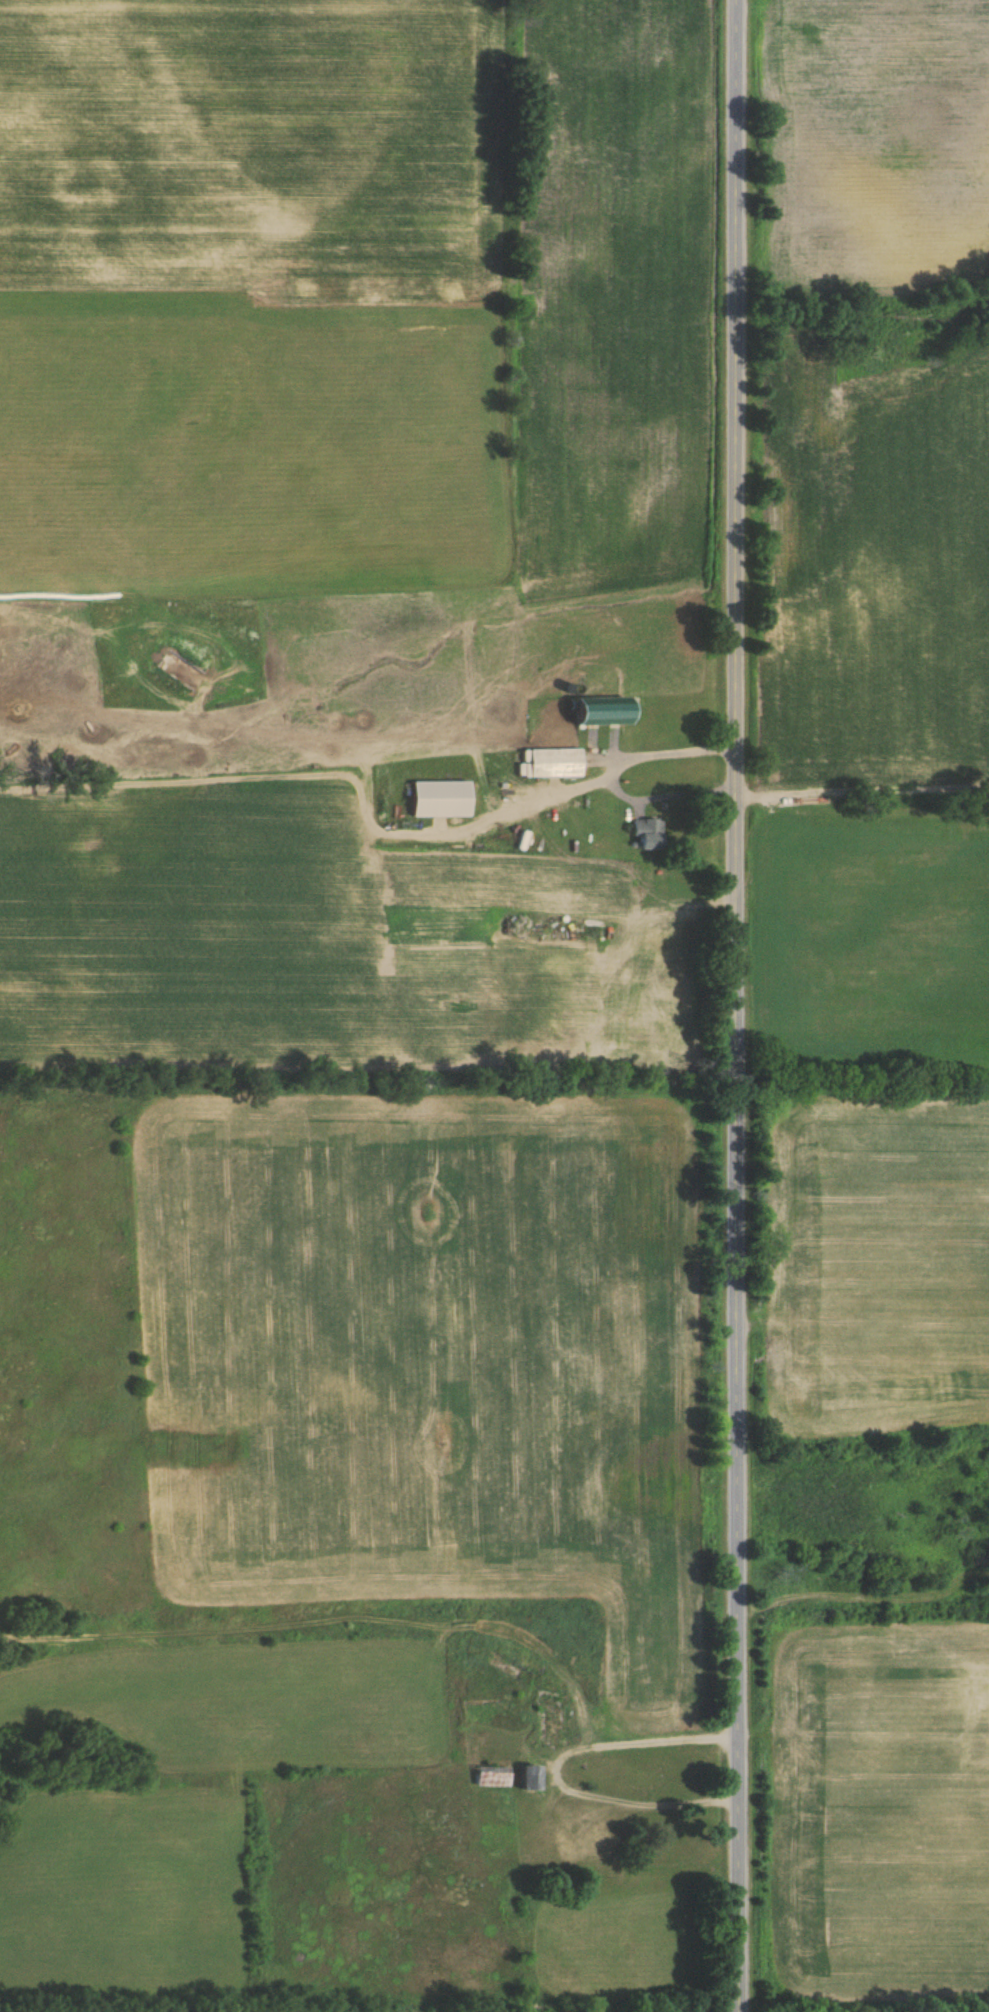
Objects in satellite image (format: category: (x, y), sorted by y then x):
building: (597, 711)
building: (551, 762)
road: (614, 776)
building: (437, 799)
road: (537, 799)
building: (644, 834)
road: (742, 1006)
building: (545, 1720)
building: (489, 1776)
building: (525, 1777)
building: (593, 1840)

